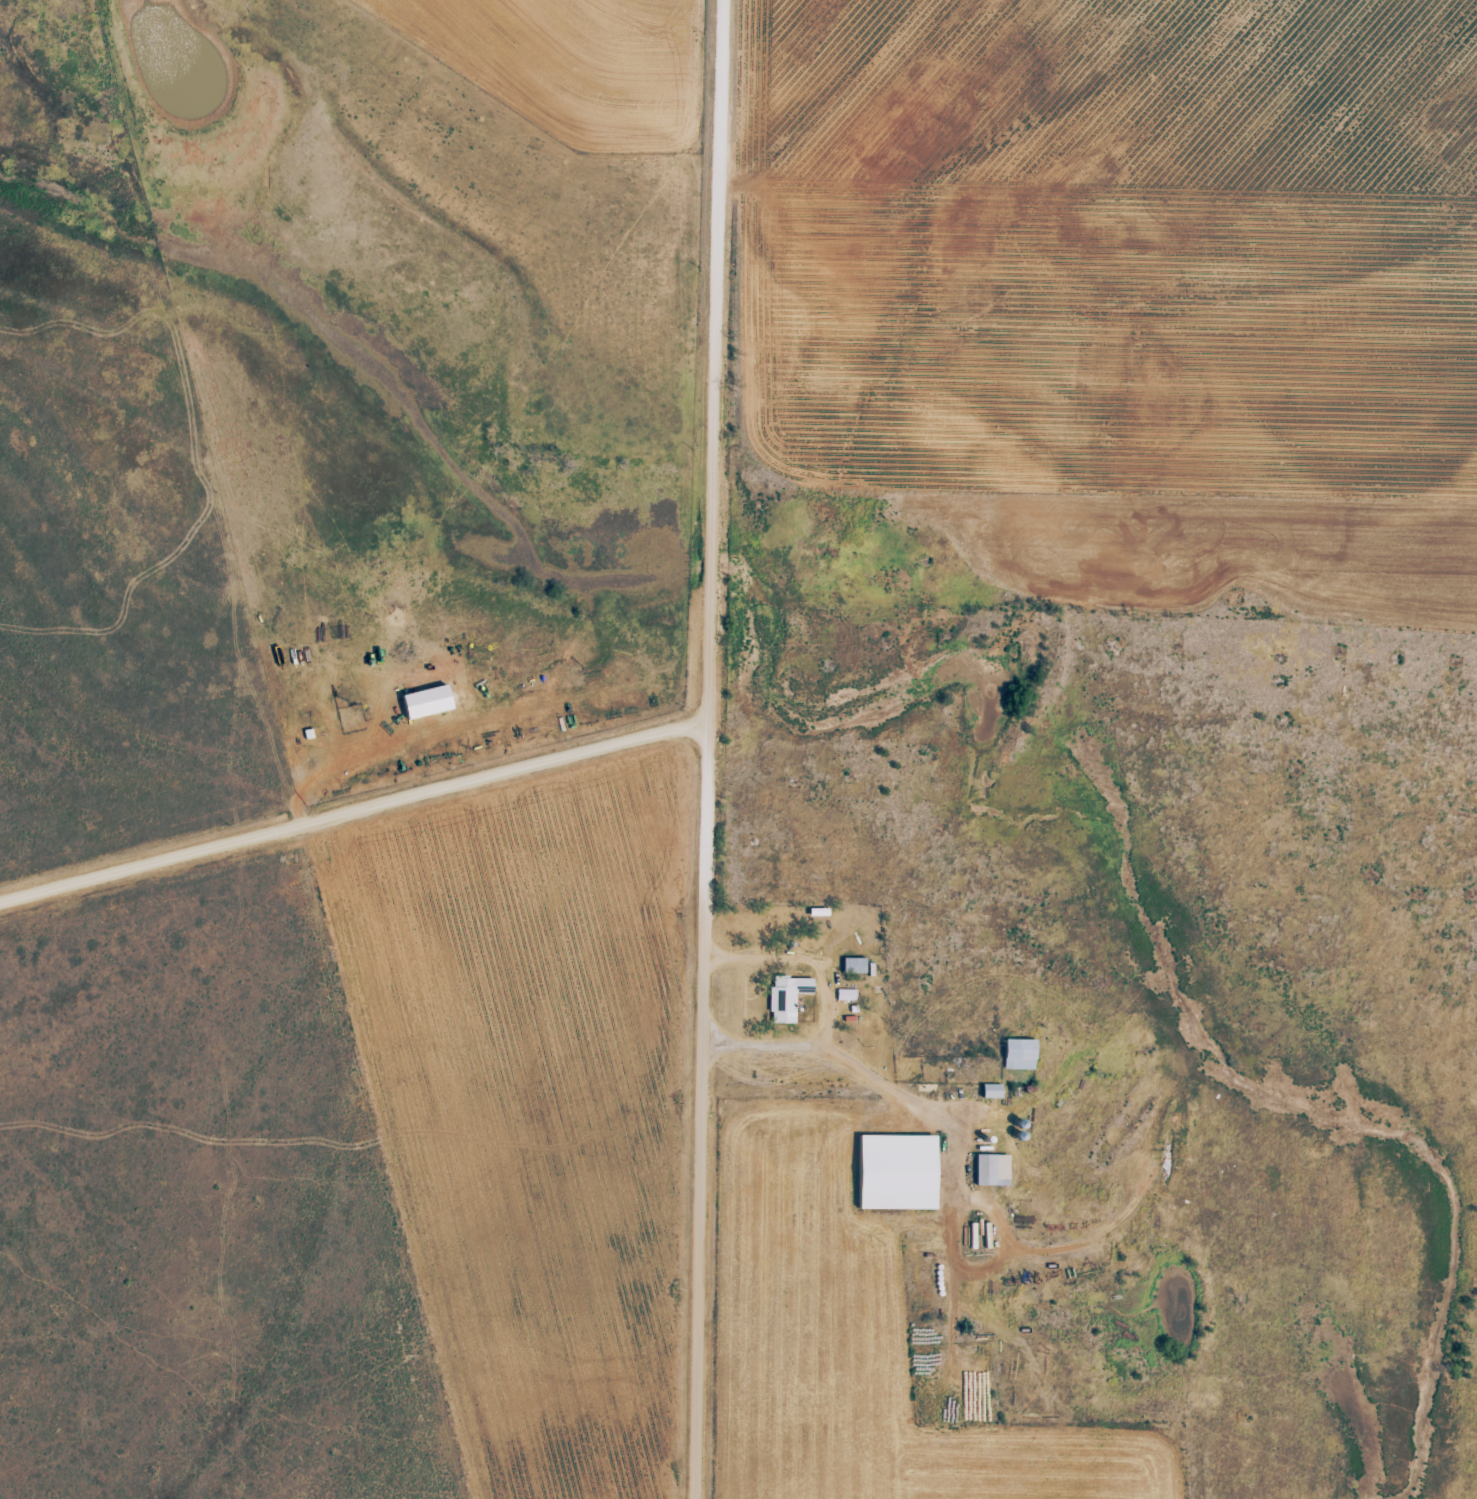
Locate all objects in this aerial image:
building: (420, 710)
road: (704, 749)
road: (351, 789)
building: (844, 1003)
building: (783, 1006)
road: (835, 1056)
building: (1015, 1063)
building: (989, 1099)
building: (989, 1178)

